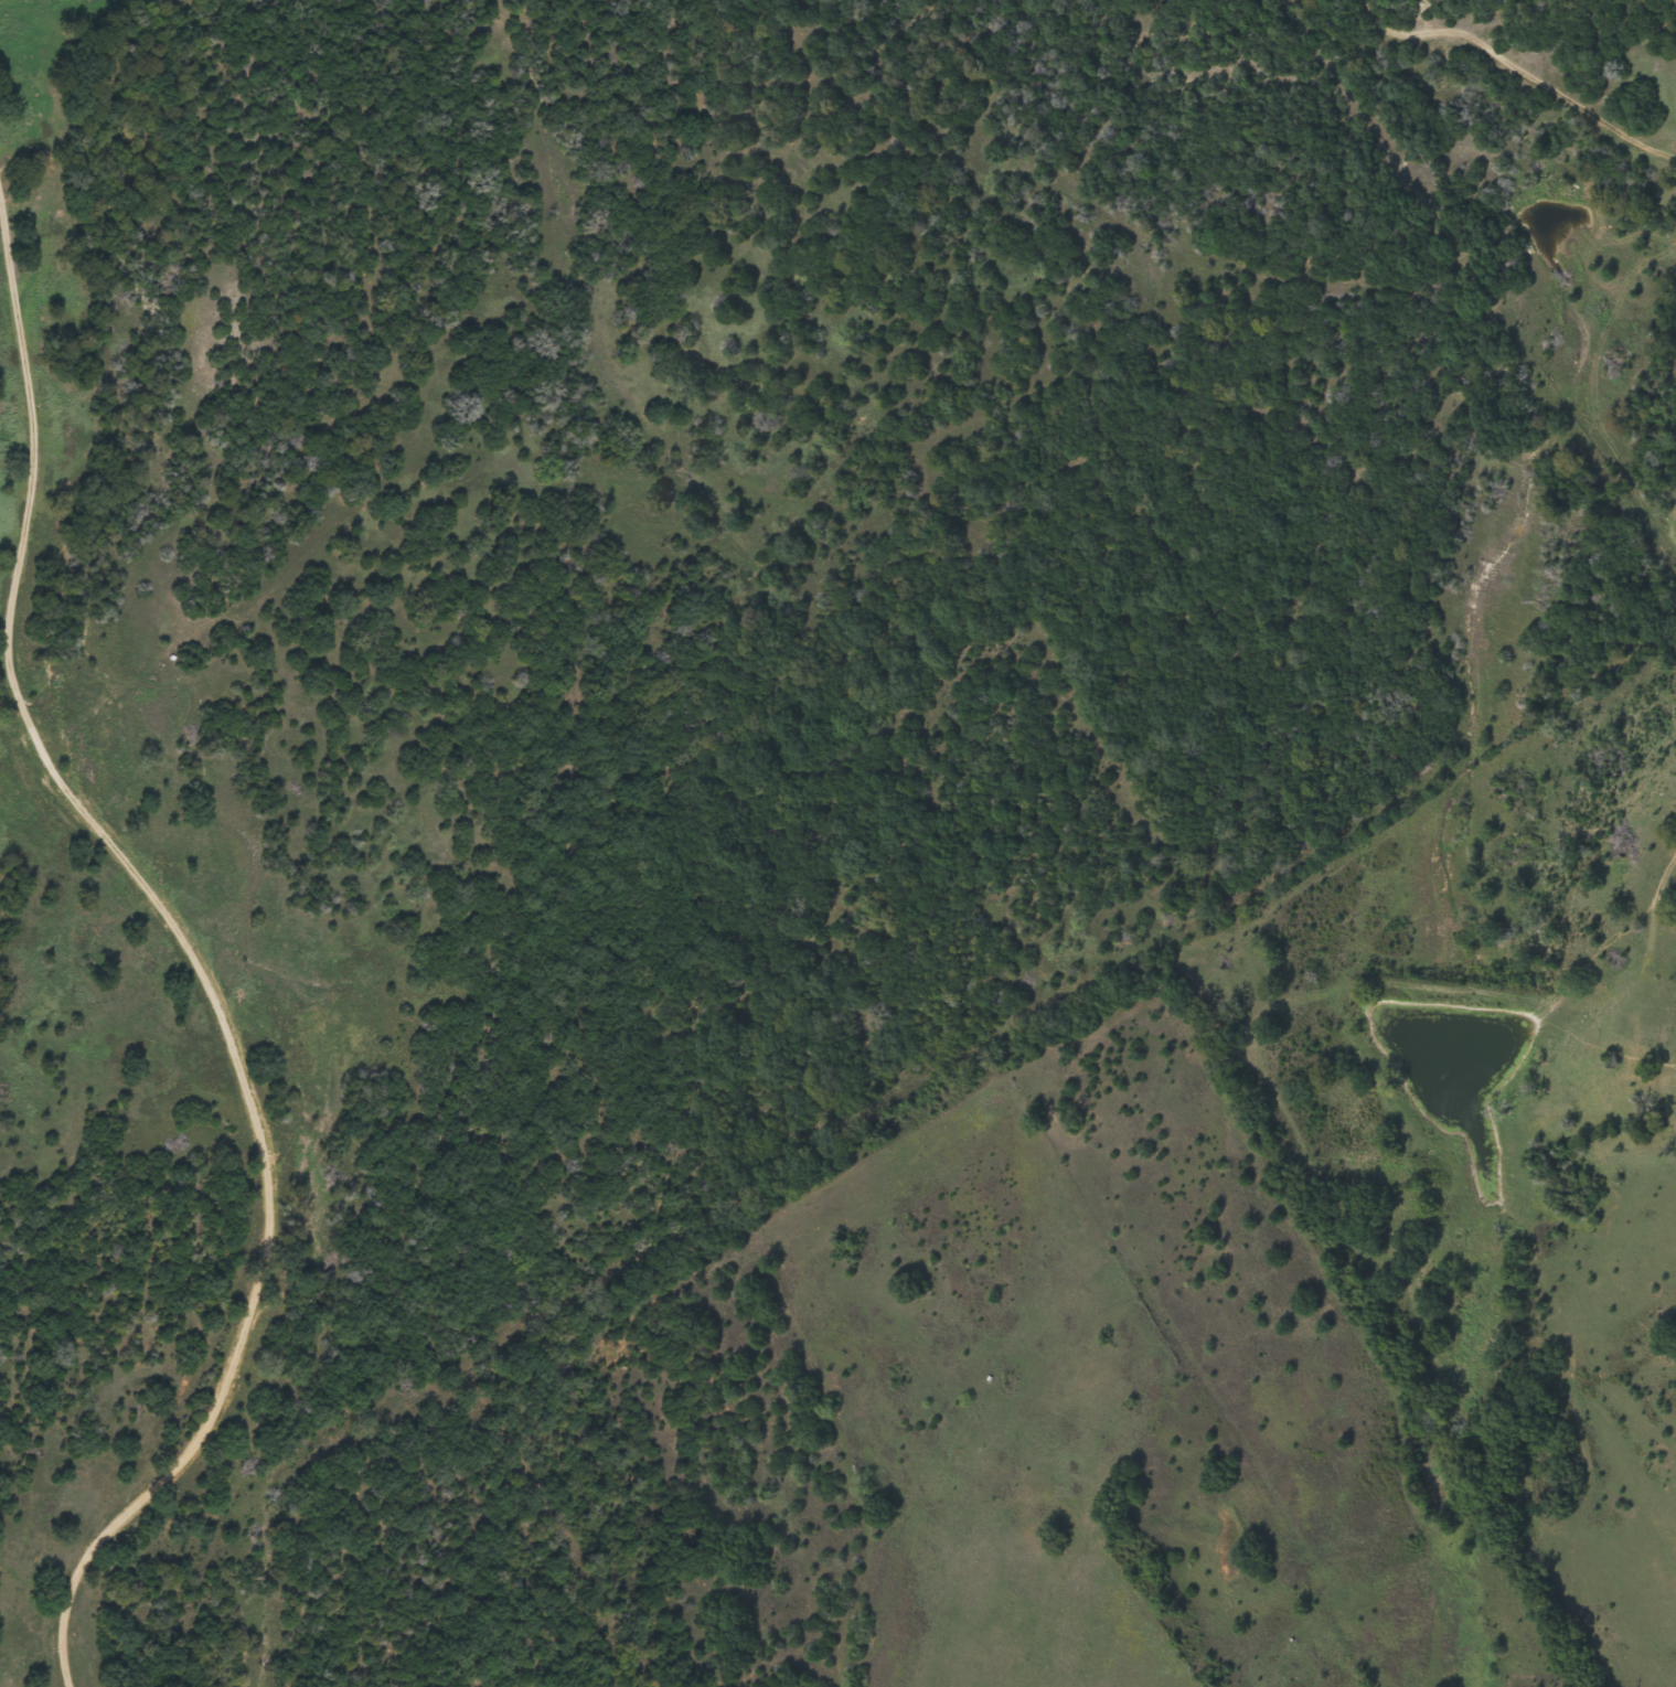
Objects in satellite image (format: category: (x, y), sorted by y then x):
road: (186, 955)

